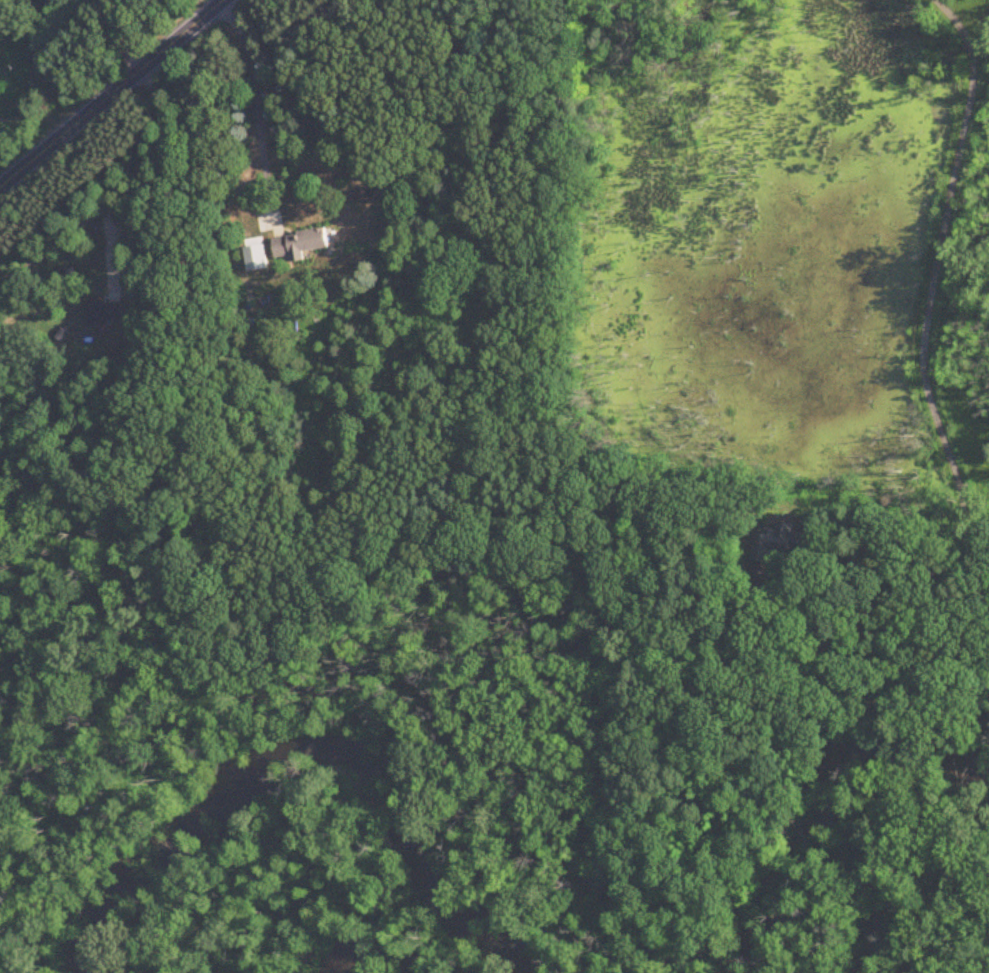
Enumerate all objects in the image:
road: (122, 37)
road: (112, 93)
road: (259, 102)
road: (117, 191)
building: (301, 244)
building: (105, 314)
road: (926, 386)
building: (778, 543)
road: (754, 606)
river: (318, 724)
river: (832, 792)

